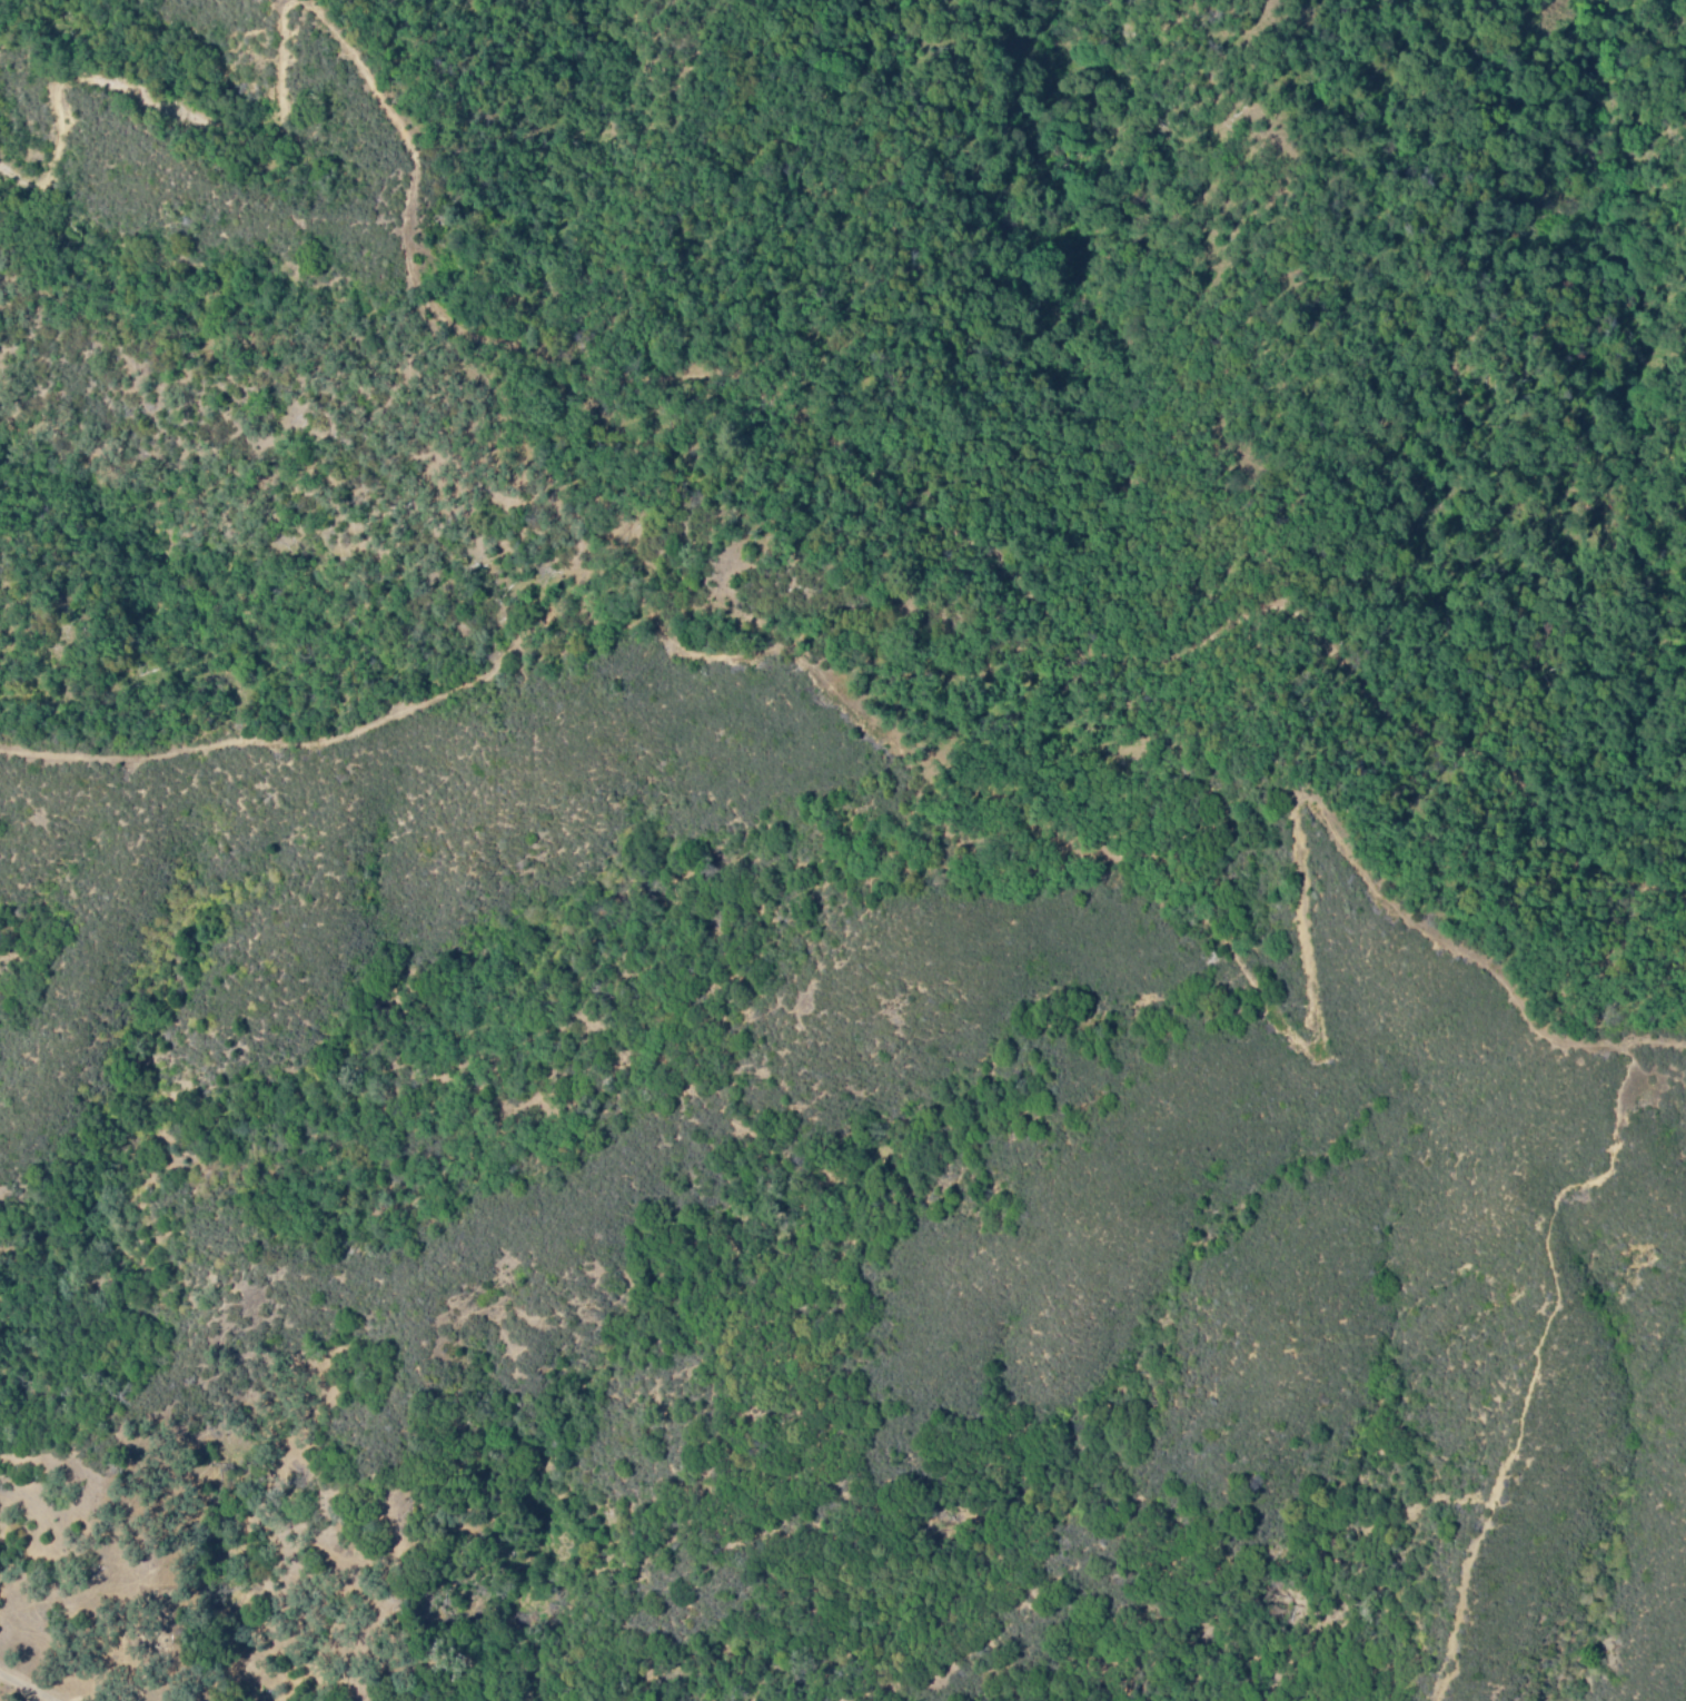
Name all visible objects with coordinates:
road: (22, 1689)

